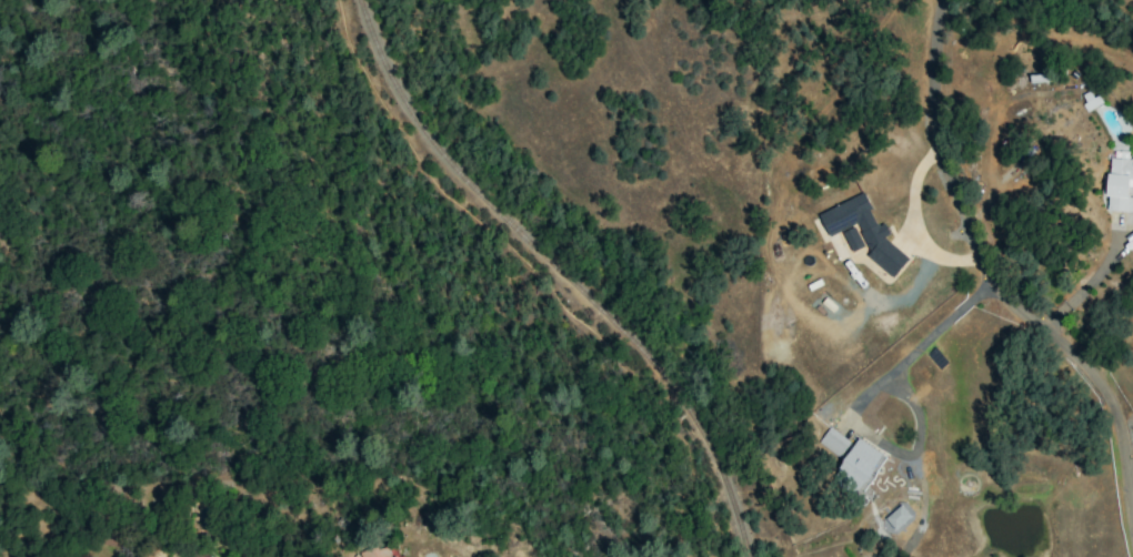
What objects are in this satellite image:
building: (1120, 182)
building: (864, 232)
building: (852, 239)
railway: (564, 271)
road: (992, 273)
road: (929, 336)
building: (833, 442)
building: (860, 464)
building: (896, 517)
building: (378, 553)
building: (402, 556)

